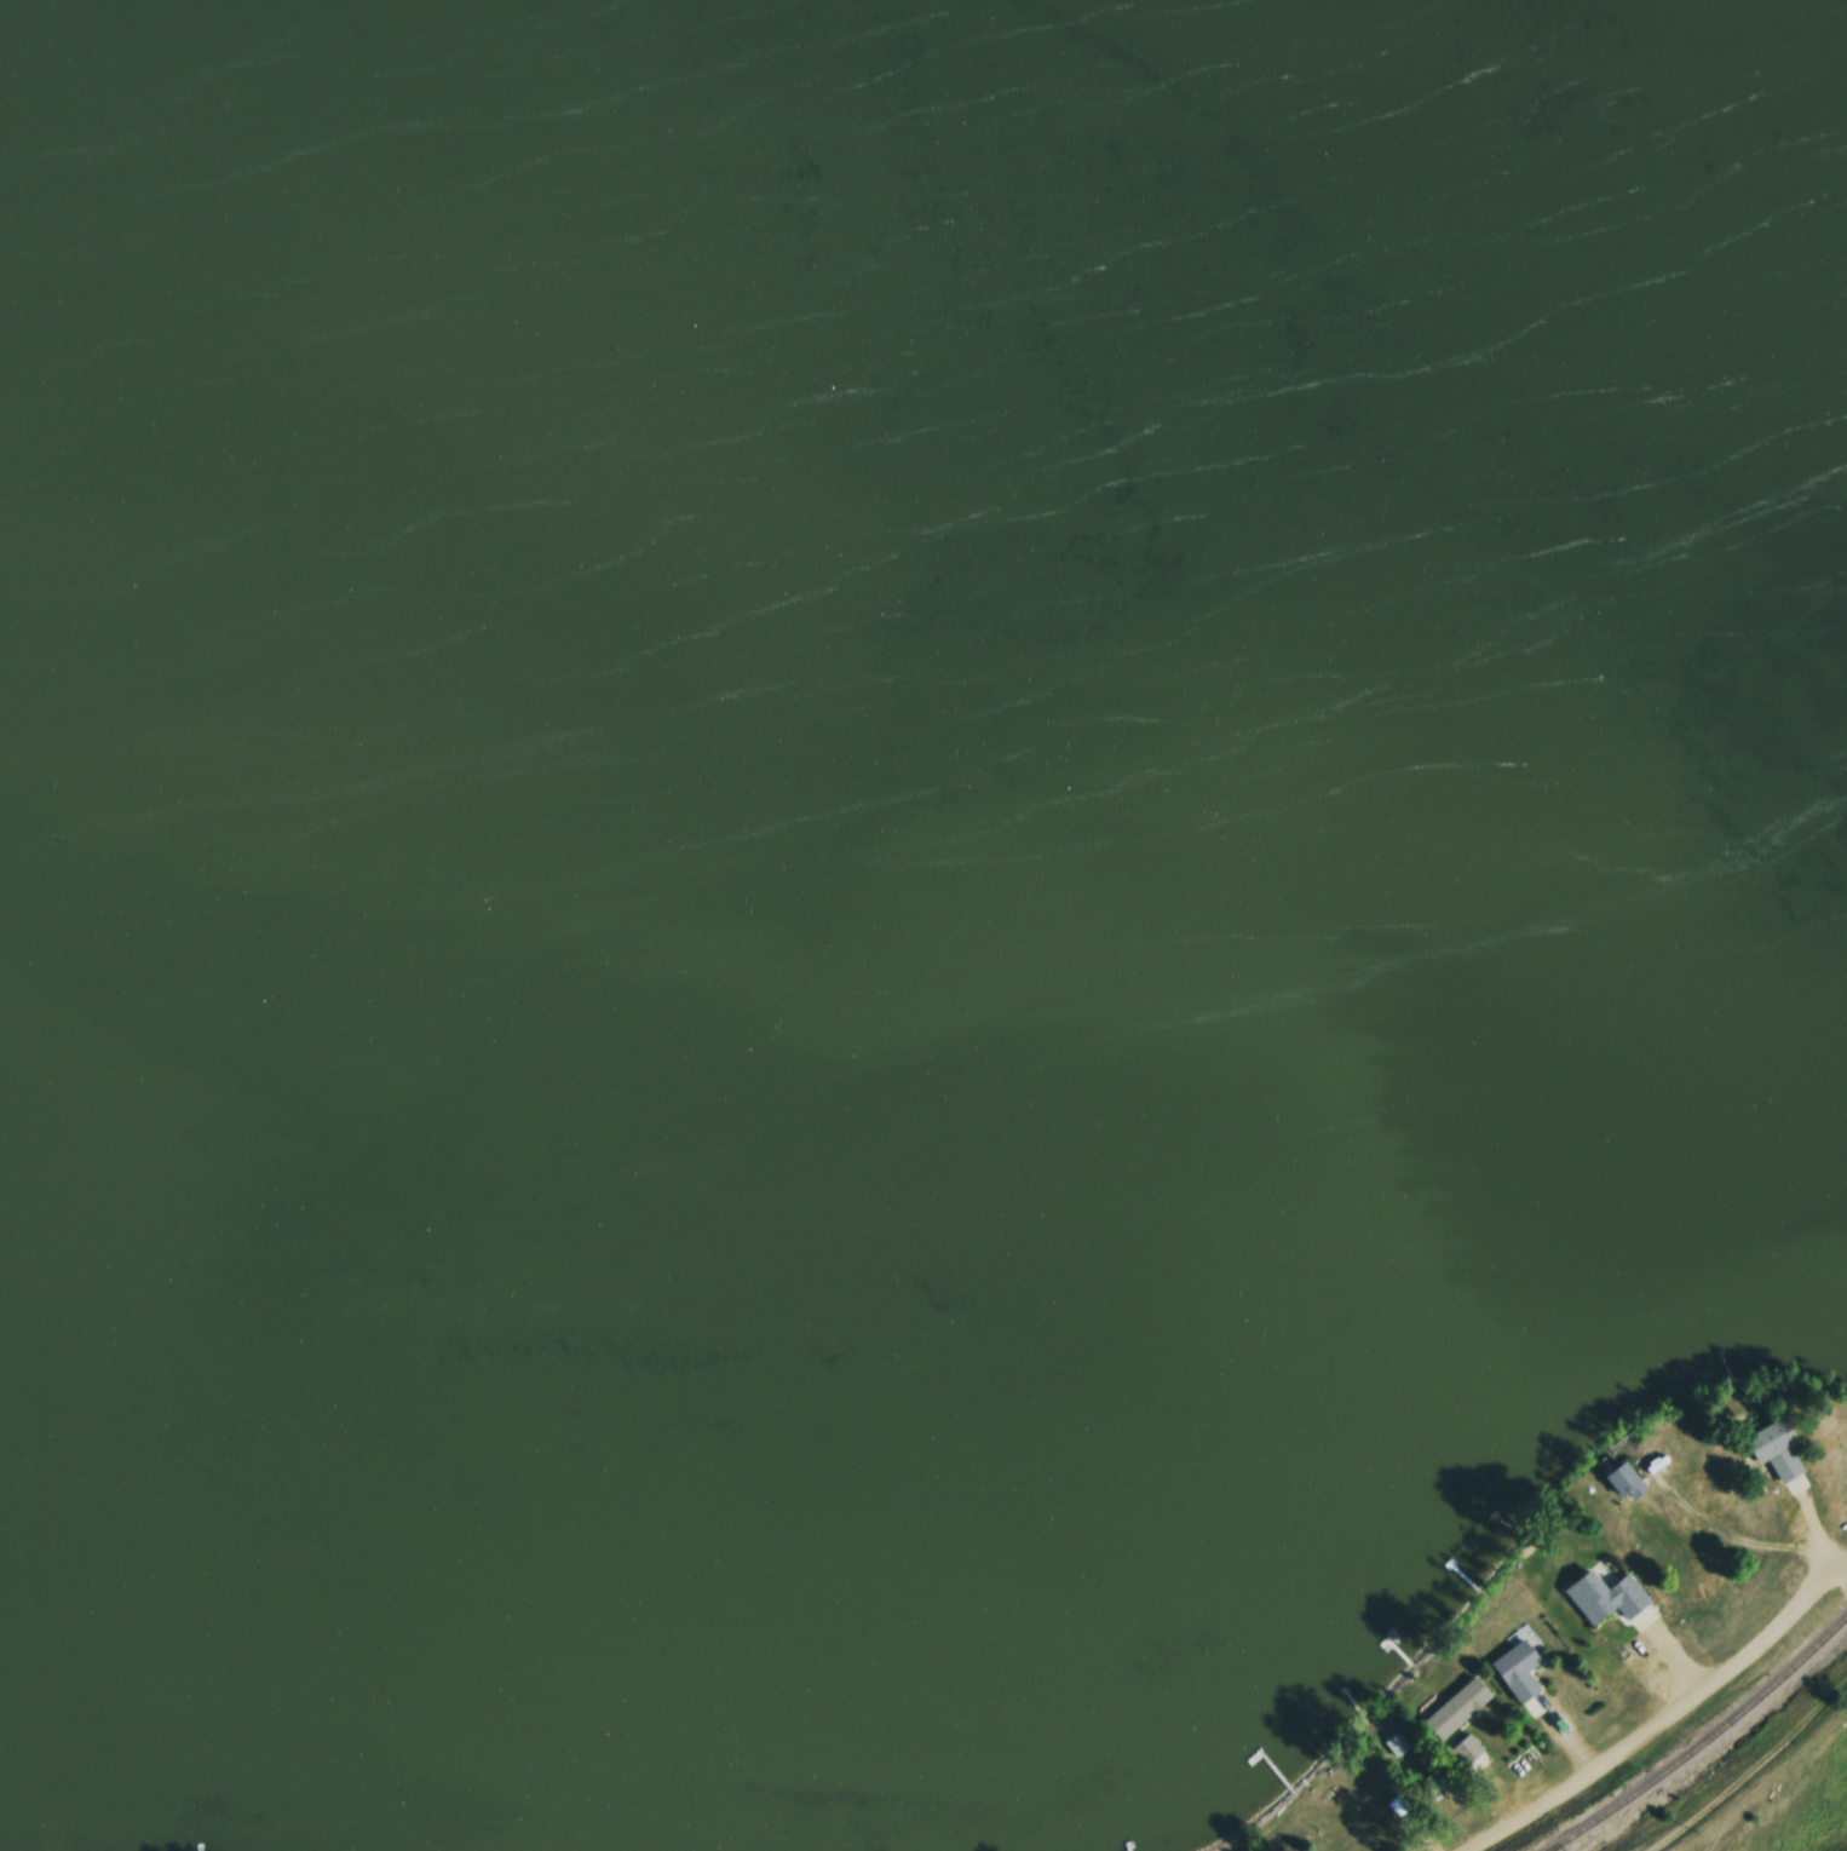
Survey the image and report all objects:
river: (1250, 323)
river: (1467, 634)
river: (534, 690)
building: (1771, 1450)
building: (1619, 1482)
building: (1582, 1593)
building: (1624, 1597)
building: (1514, 1671)
building: (1451, 1708)
road: (1680, 1725)
railway: (1703, 1741)
building: (1393, 1746)
building: (1462, 1751)
road: (1756, 1781)
railway: (1553, 1847)

